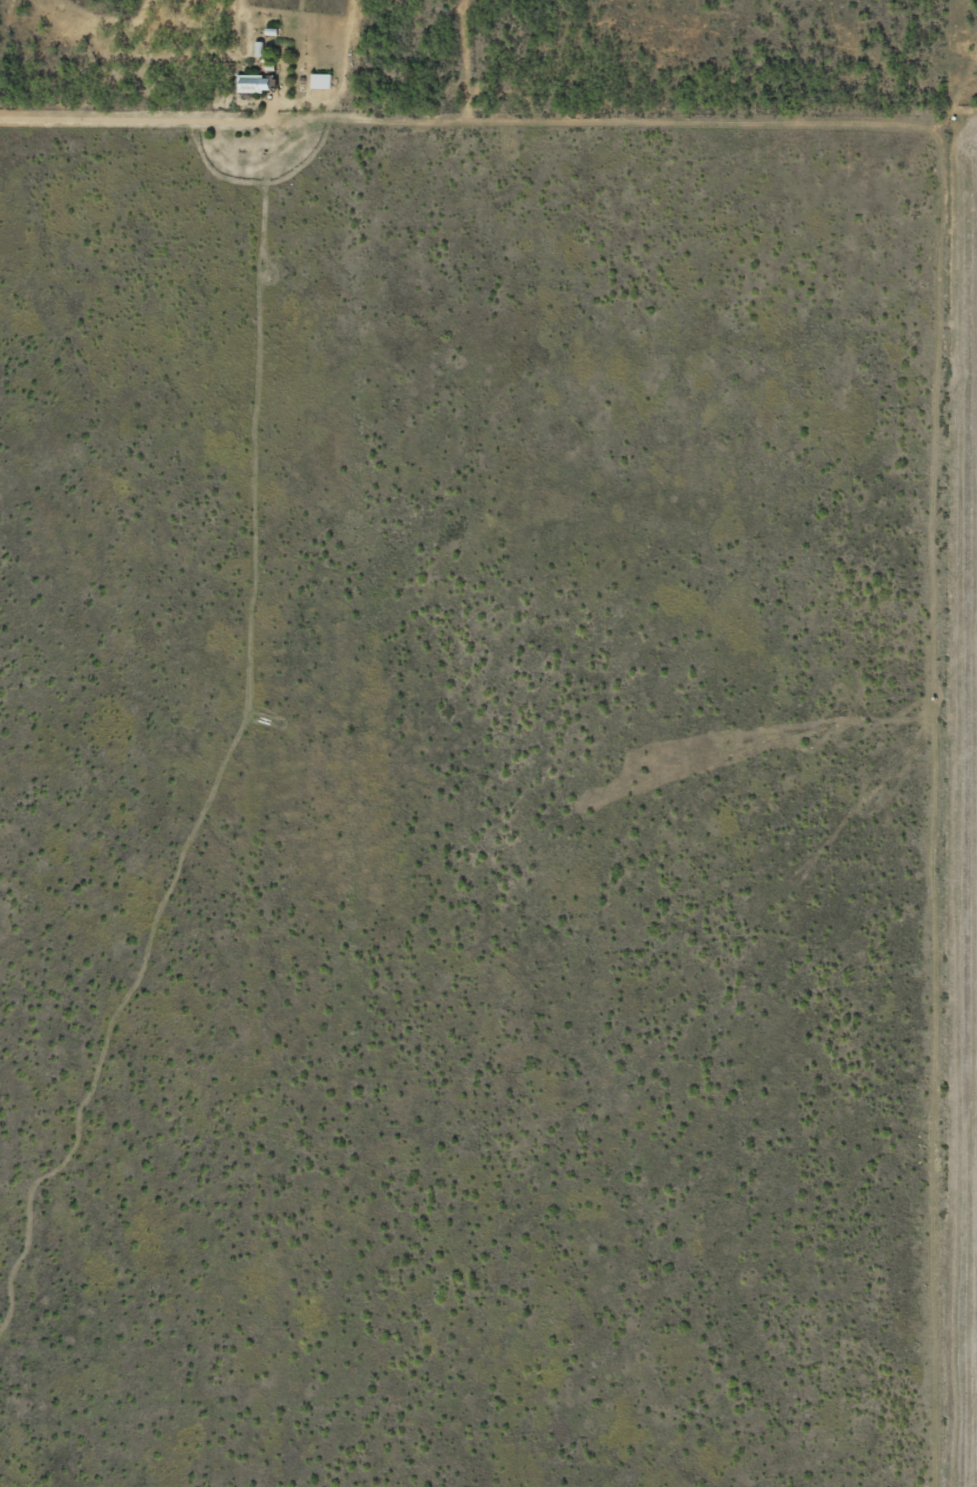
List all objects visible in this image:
building: (251, 83)

